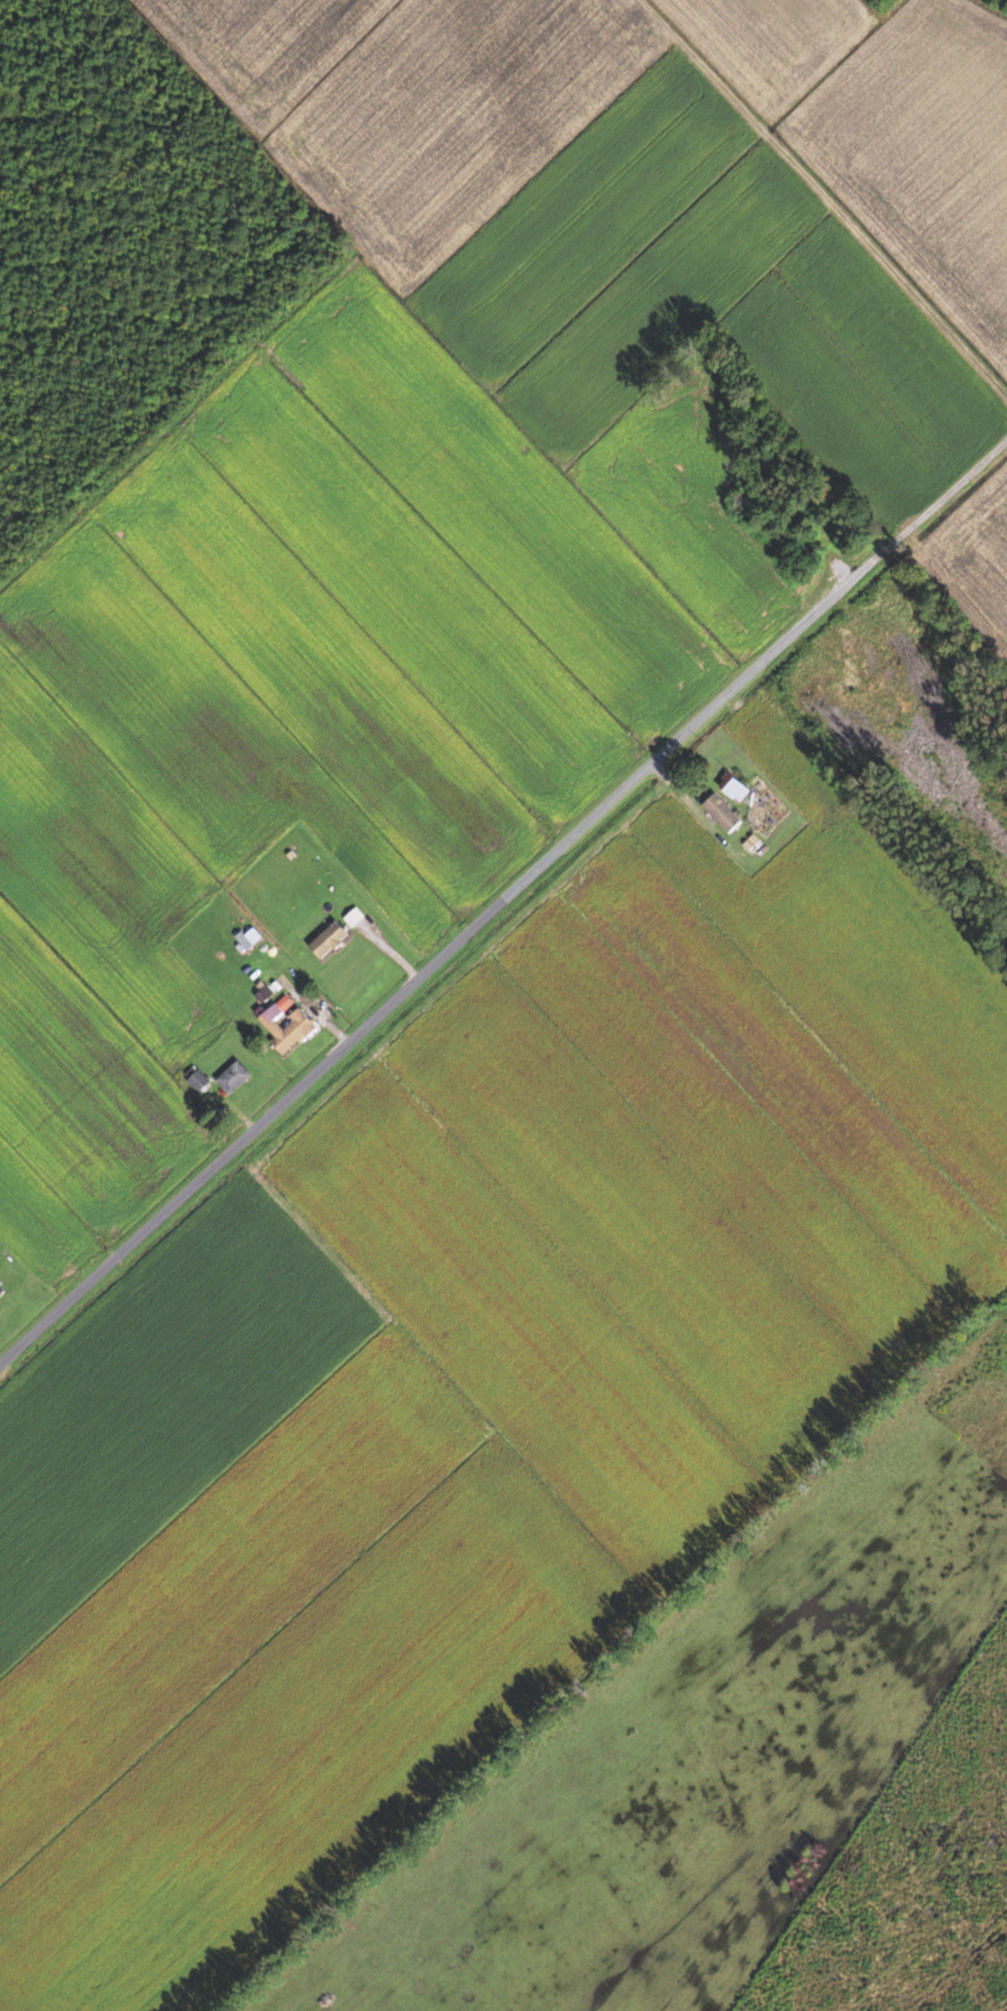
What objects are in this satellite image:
building: (733, 788)
building: (721, 813)
road: (501, 905)
building: (353, 917)
building: (328, 940)
building: (285, 1027)
building: (233, 1077)
building: (197, 1079)
building: (1, 1289)

